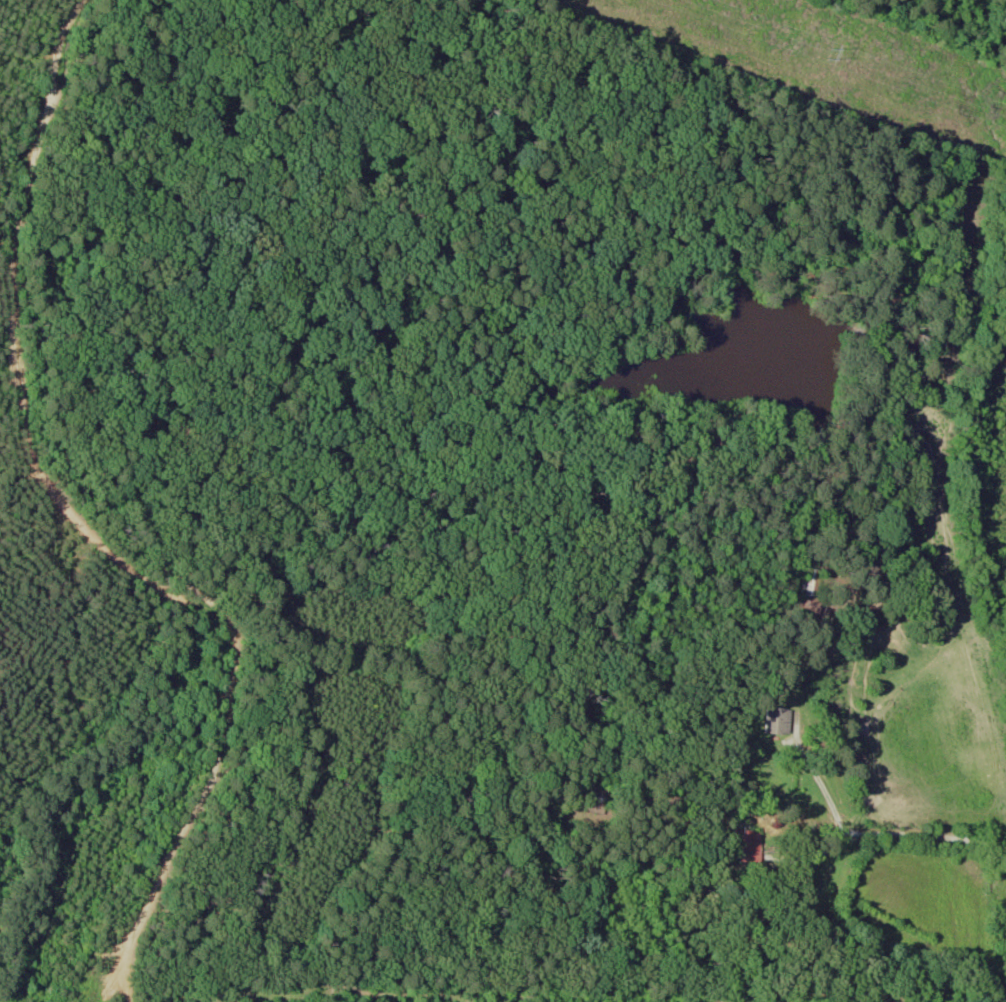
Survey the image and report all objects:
building: (814, 582)
building: (780, 720)
building: (598, 792)
road: (870, 834)
building: (747, 842)
road: (394, 978)
road: (214, 981)
road: (773, 994)

